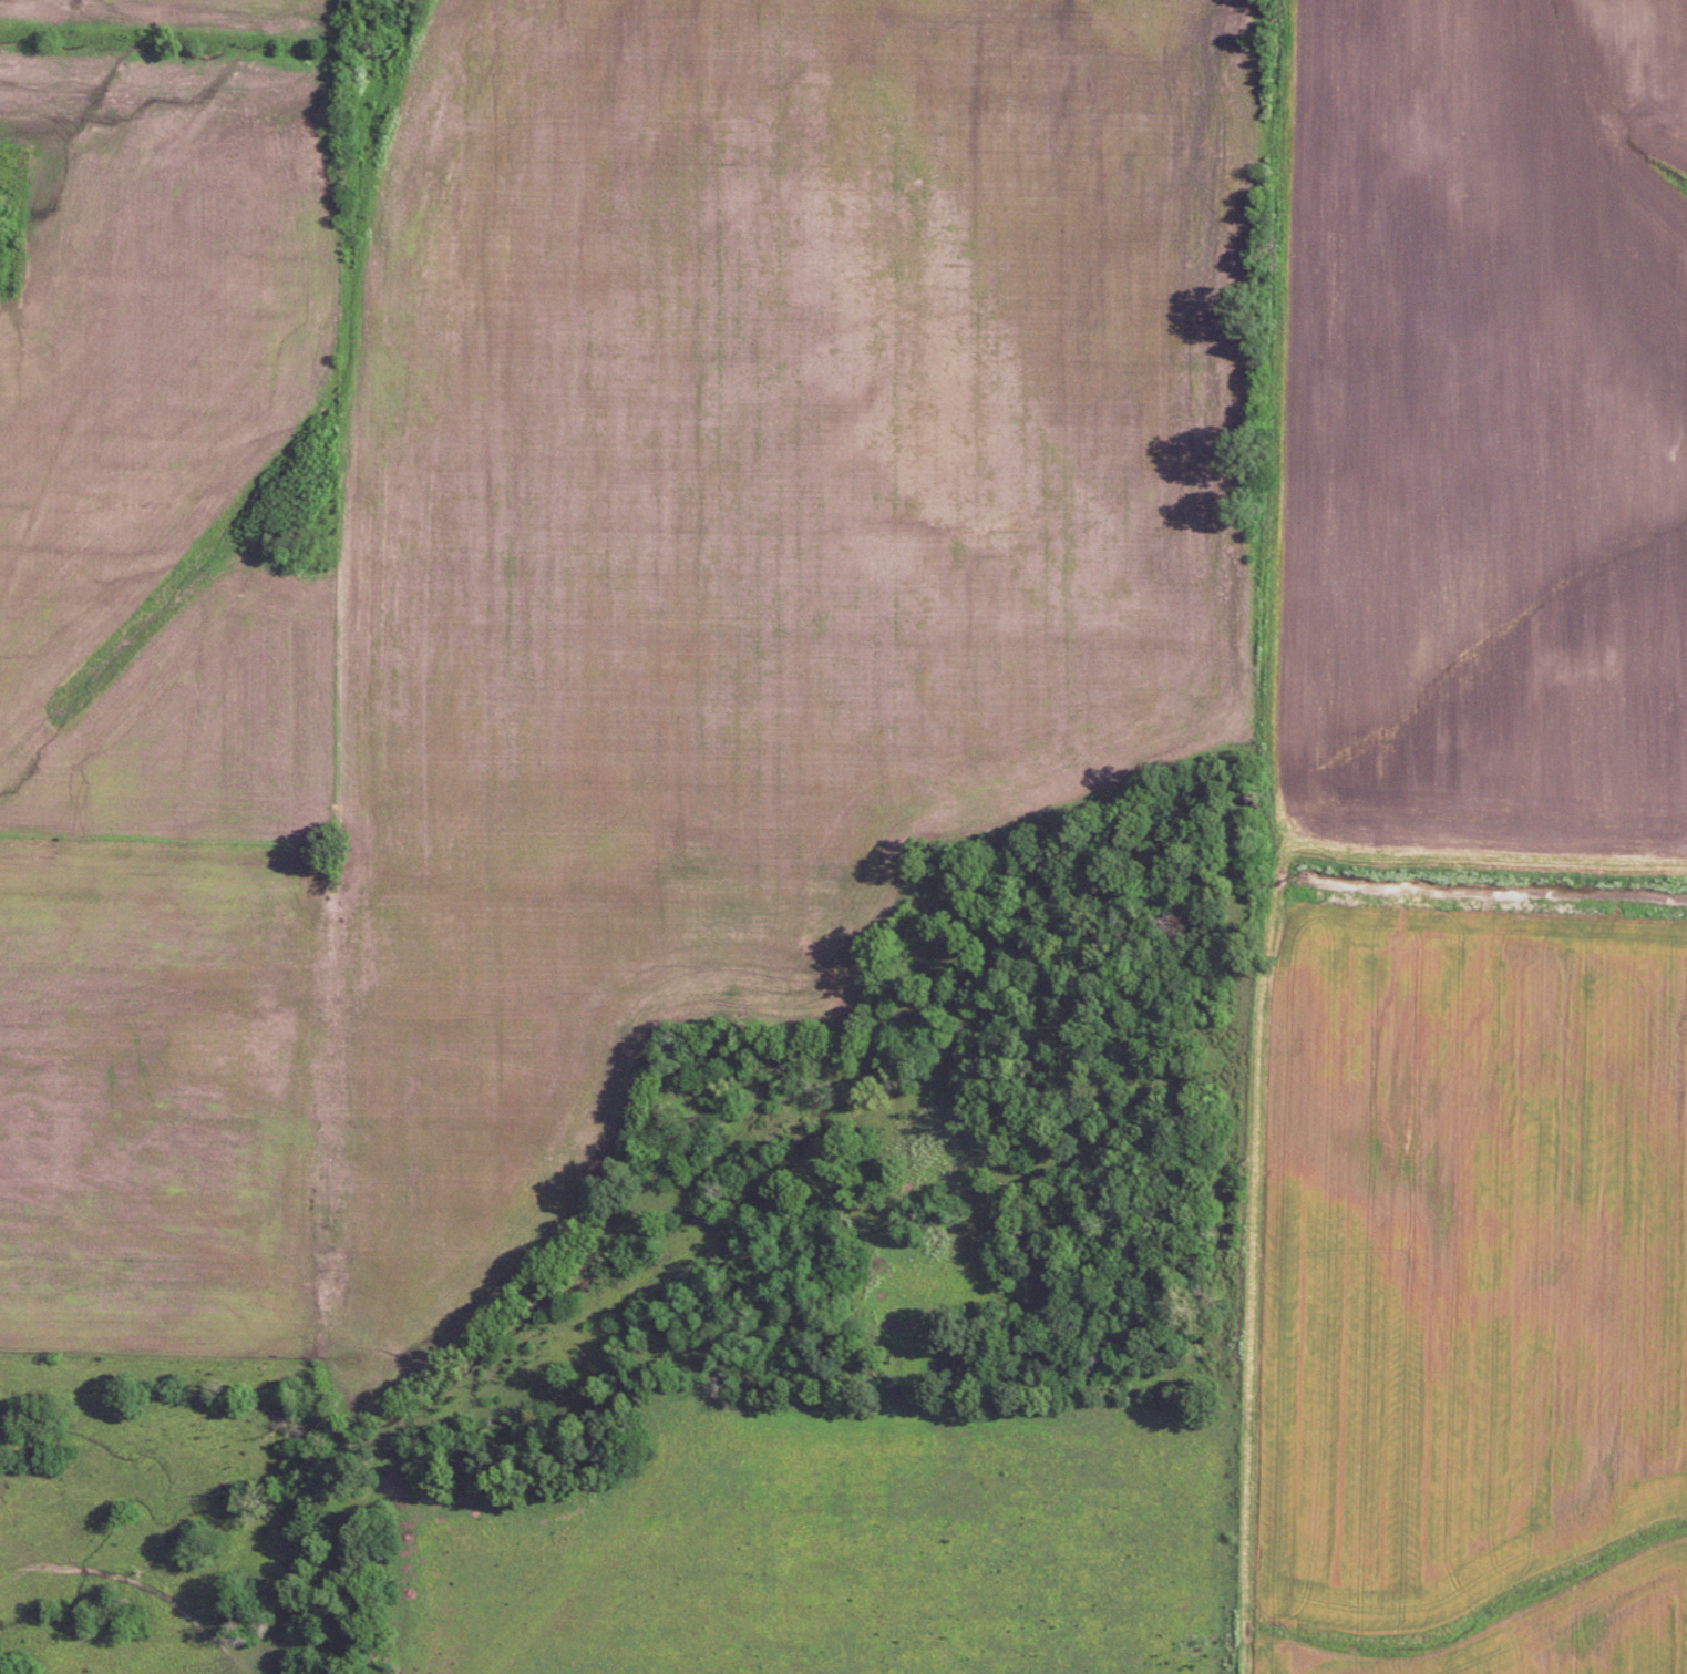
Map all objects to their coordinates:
road: (1252, 1324)

